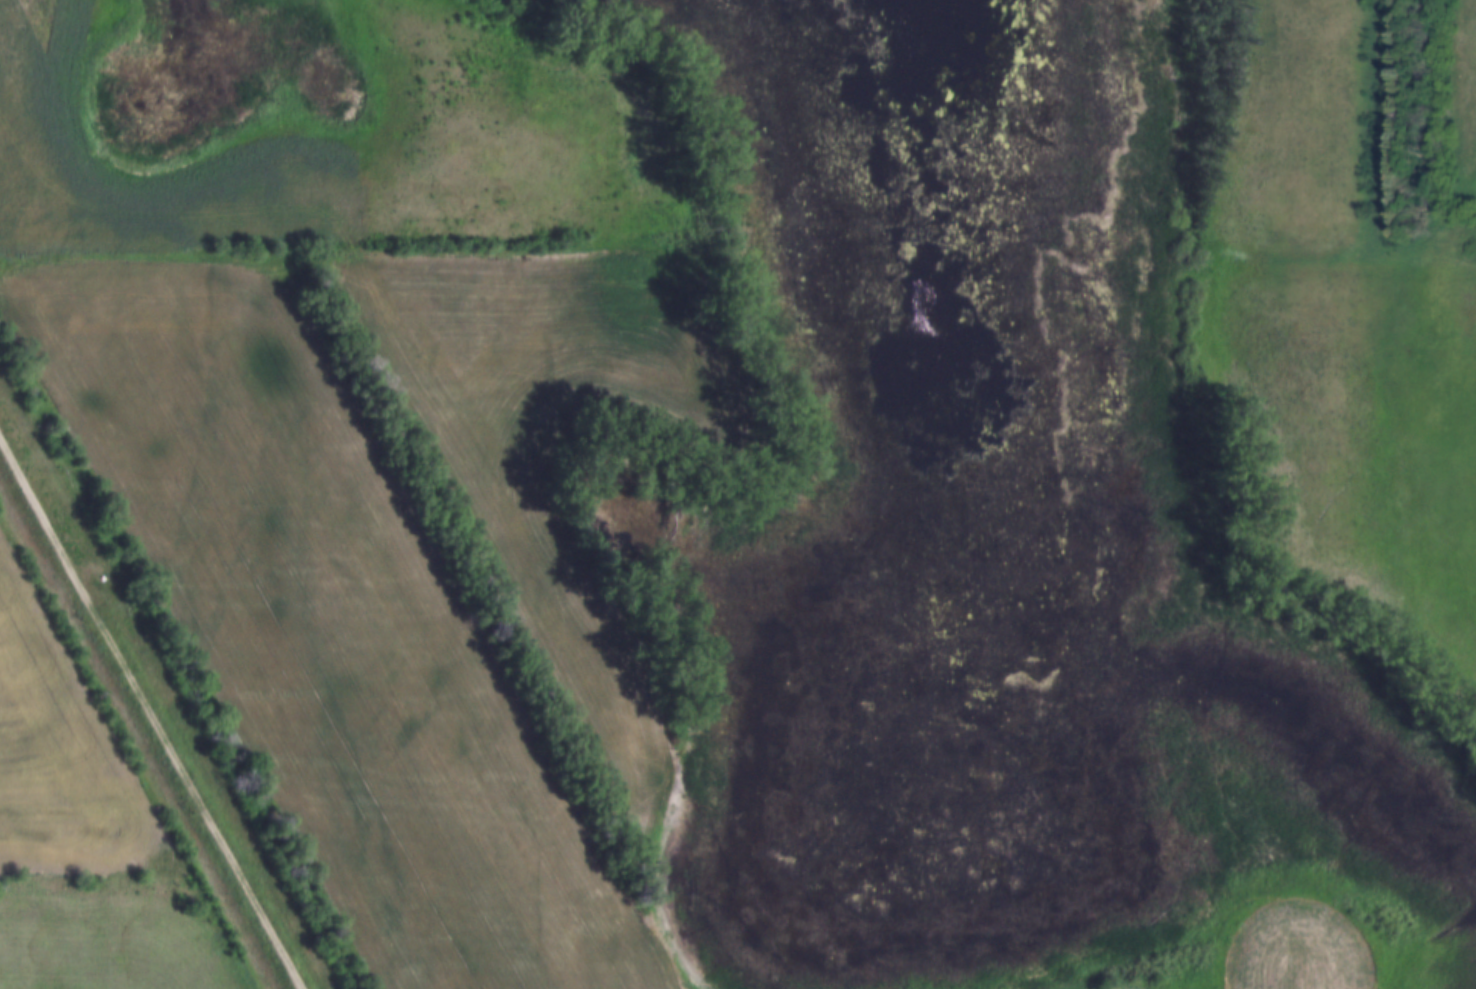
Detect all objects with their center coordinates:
road: (1430, 260)
road: (152, 707)

